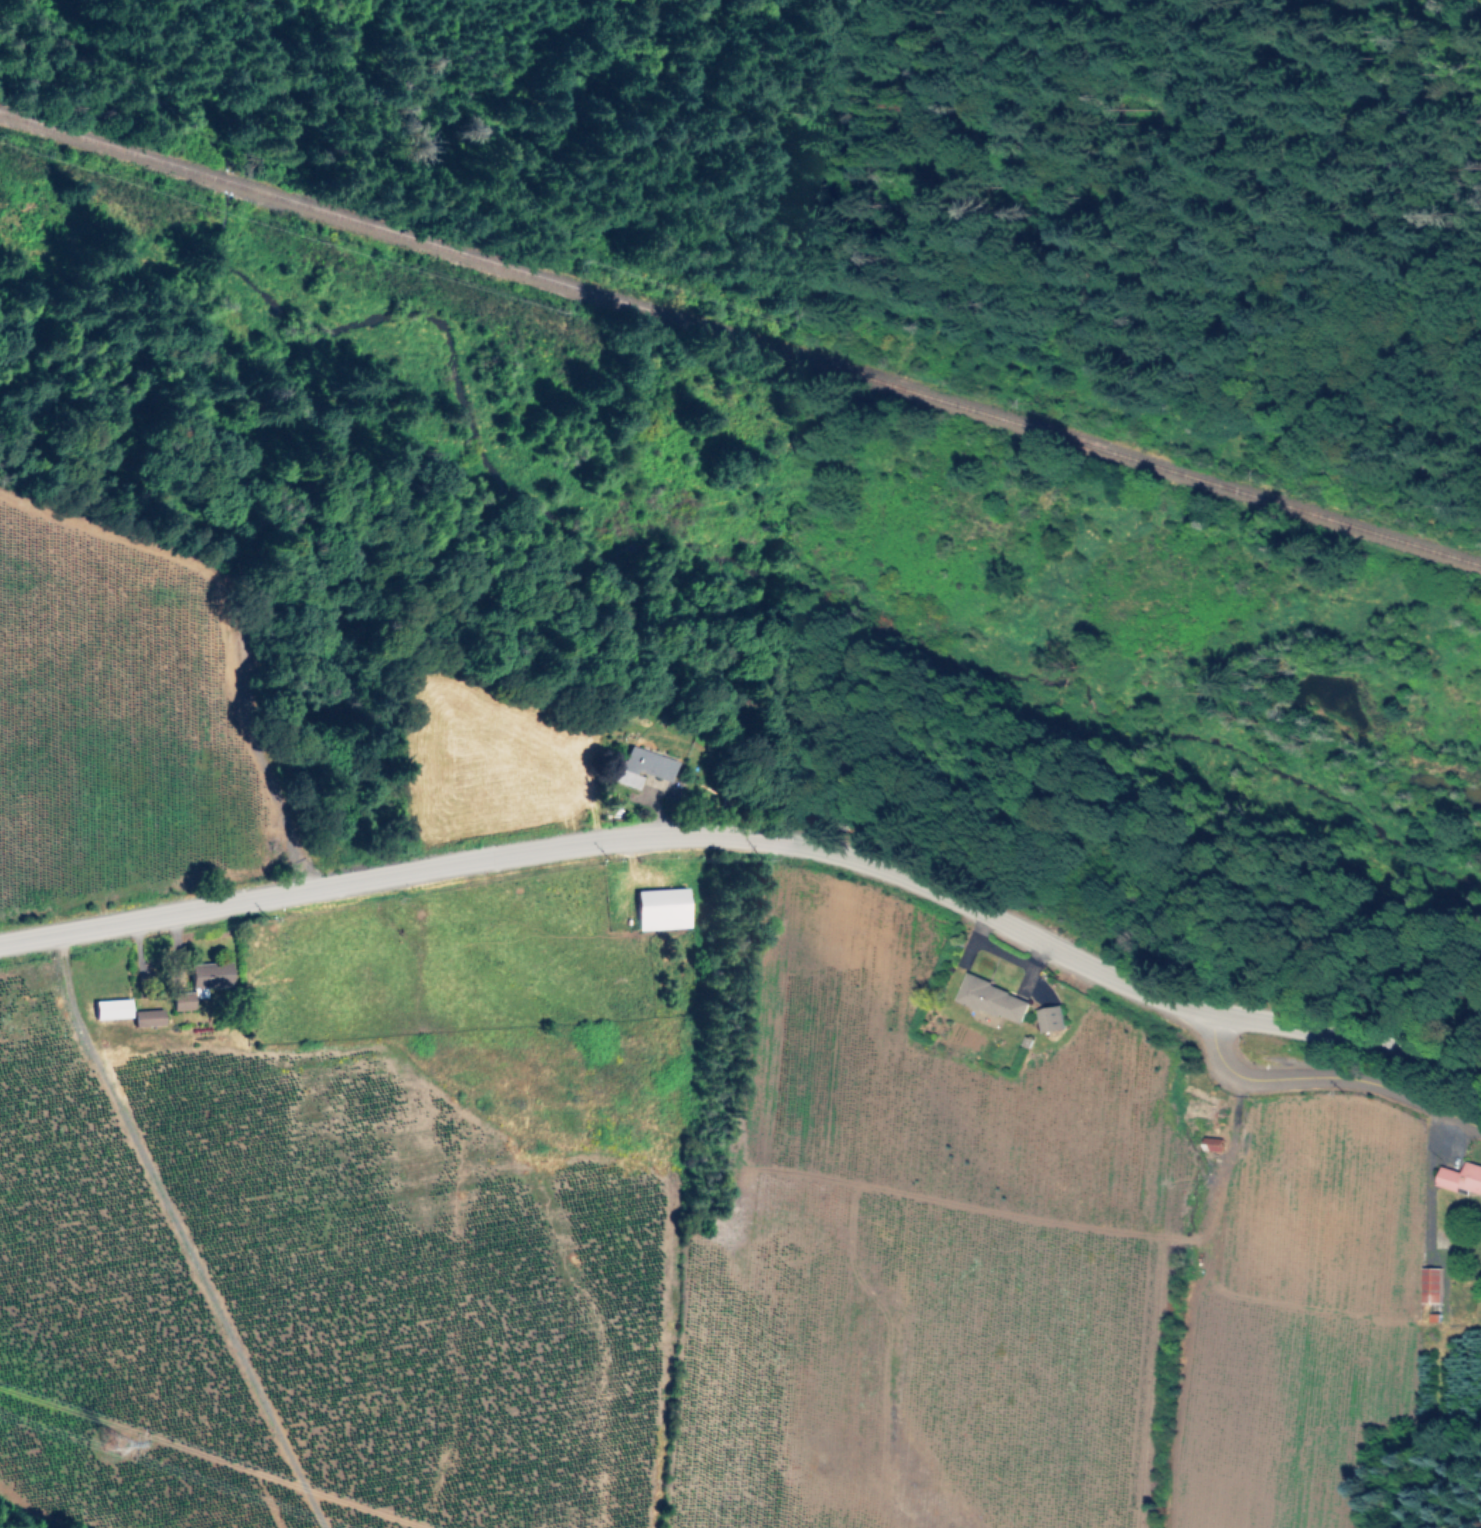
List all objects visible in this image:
railway: (740, 343)
road: (233, 590)
building: (639, 766)
road: (757, 841)
building: (660, 907)
building: (210, 976)
building: (180, 1000)
building: (988, 1000)
building: (110, 1006)
building: (146, 1016)
building: (1048, 1017)
road: (1329, 1081)
crop: (613, 1116)
building: (1209, 1142)
building: (1460, 1176)
road: (176, 1236)
building: (1428, 1283)
power tower: (118, 1449)

